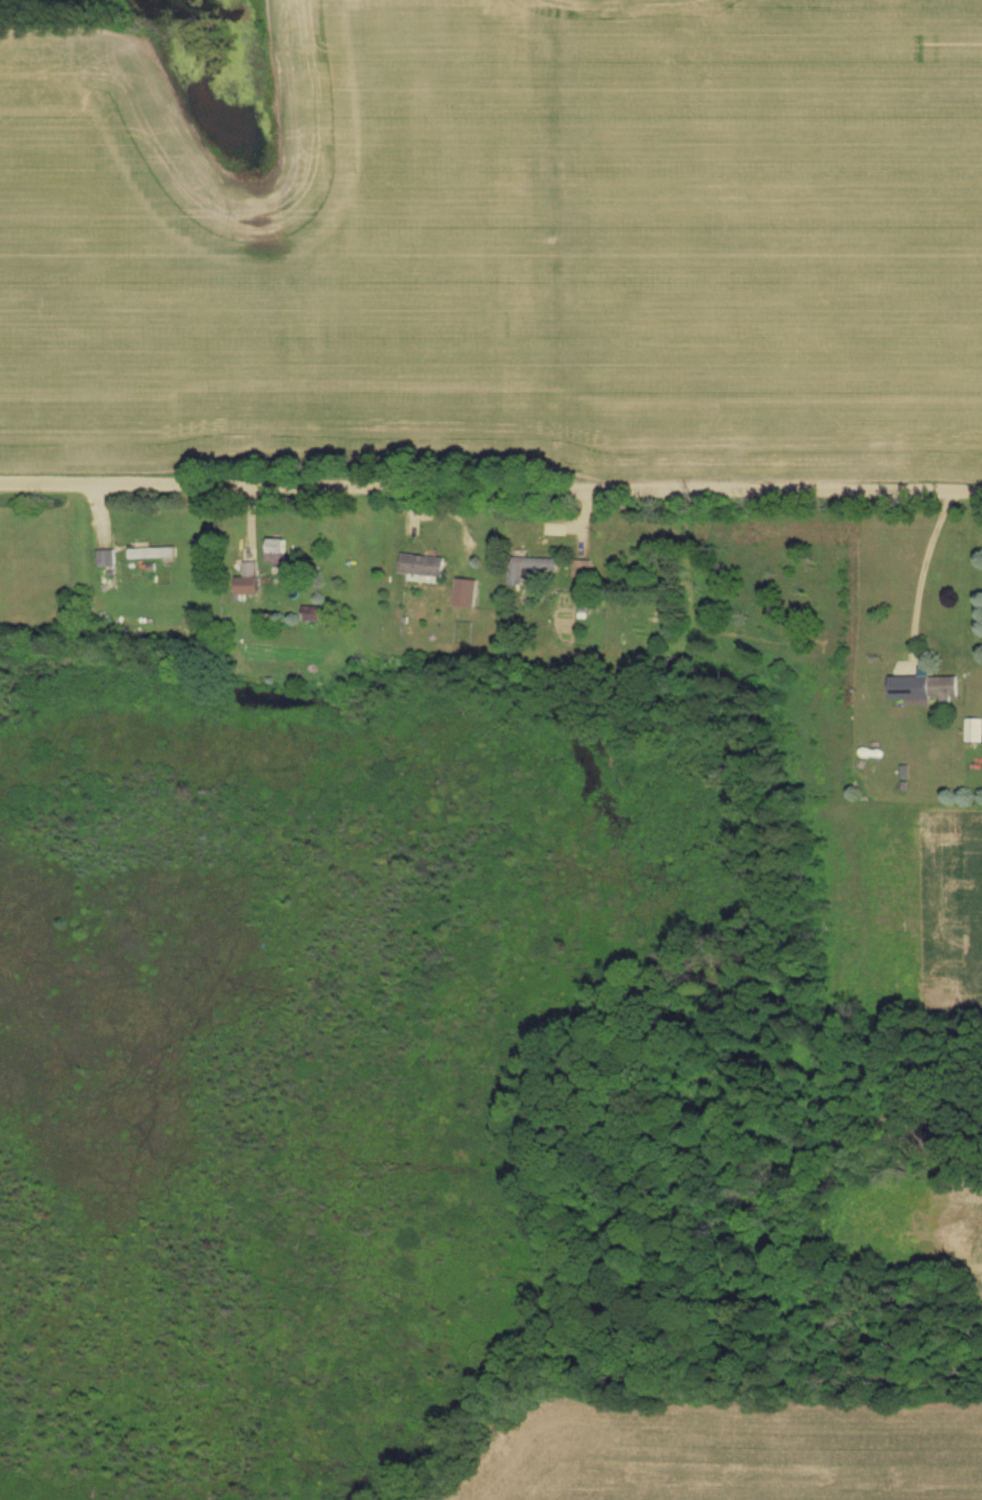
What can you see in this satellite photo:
crop: (777, 245)
crop: (281, 250)
road: (491, 483)
building: (277, 550)
building: (153, 553)
building: (106, 559)
building: (422, 565)
building: (529, 568)
road: (922, 568)
building: (583, 569)
building: (250, 580)
building: (313, 613)
building: (923, 689)
building: (974, 731)
crop: (912, 907)
crop: (945, 1223)
crop: (733, 1453)

